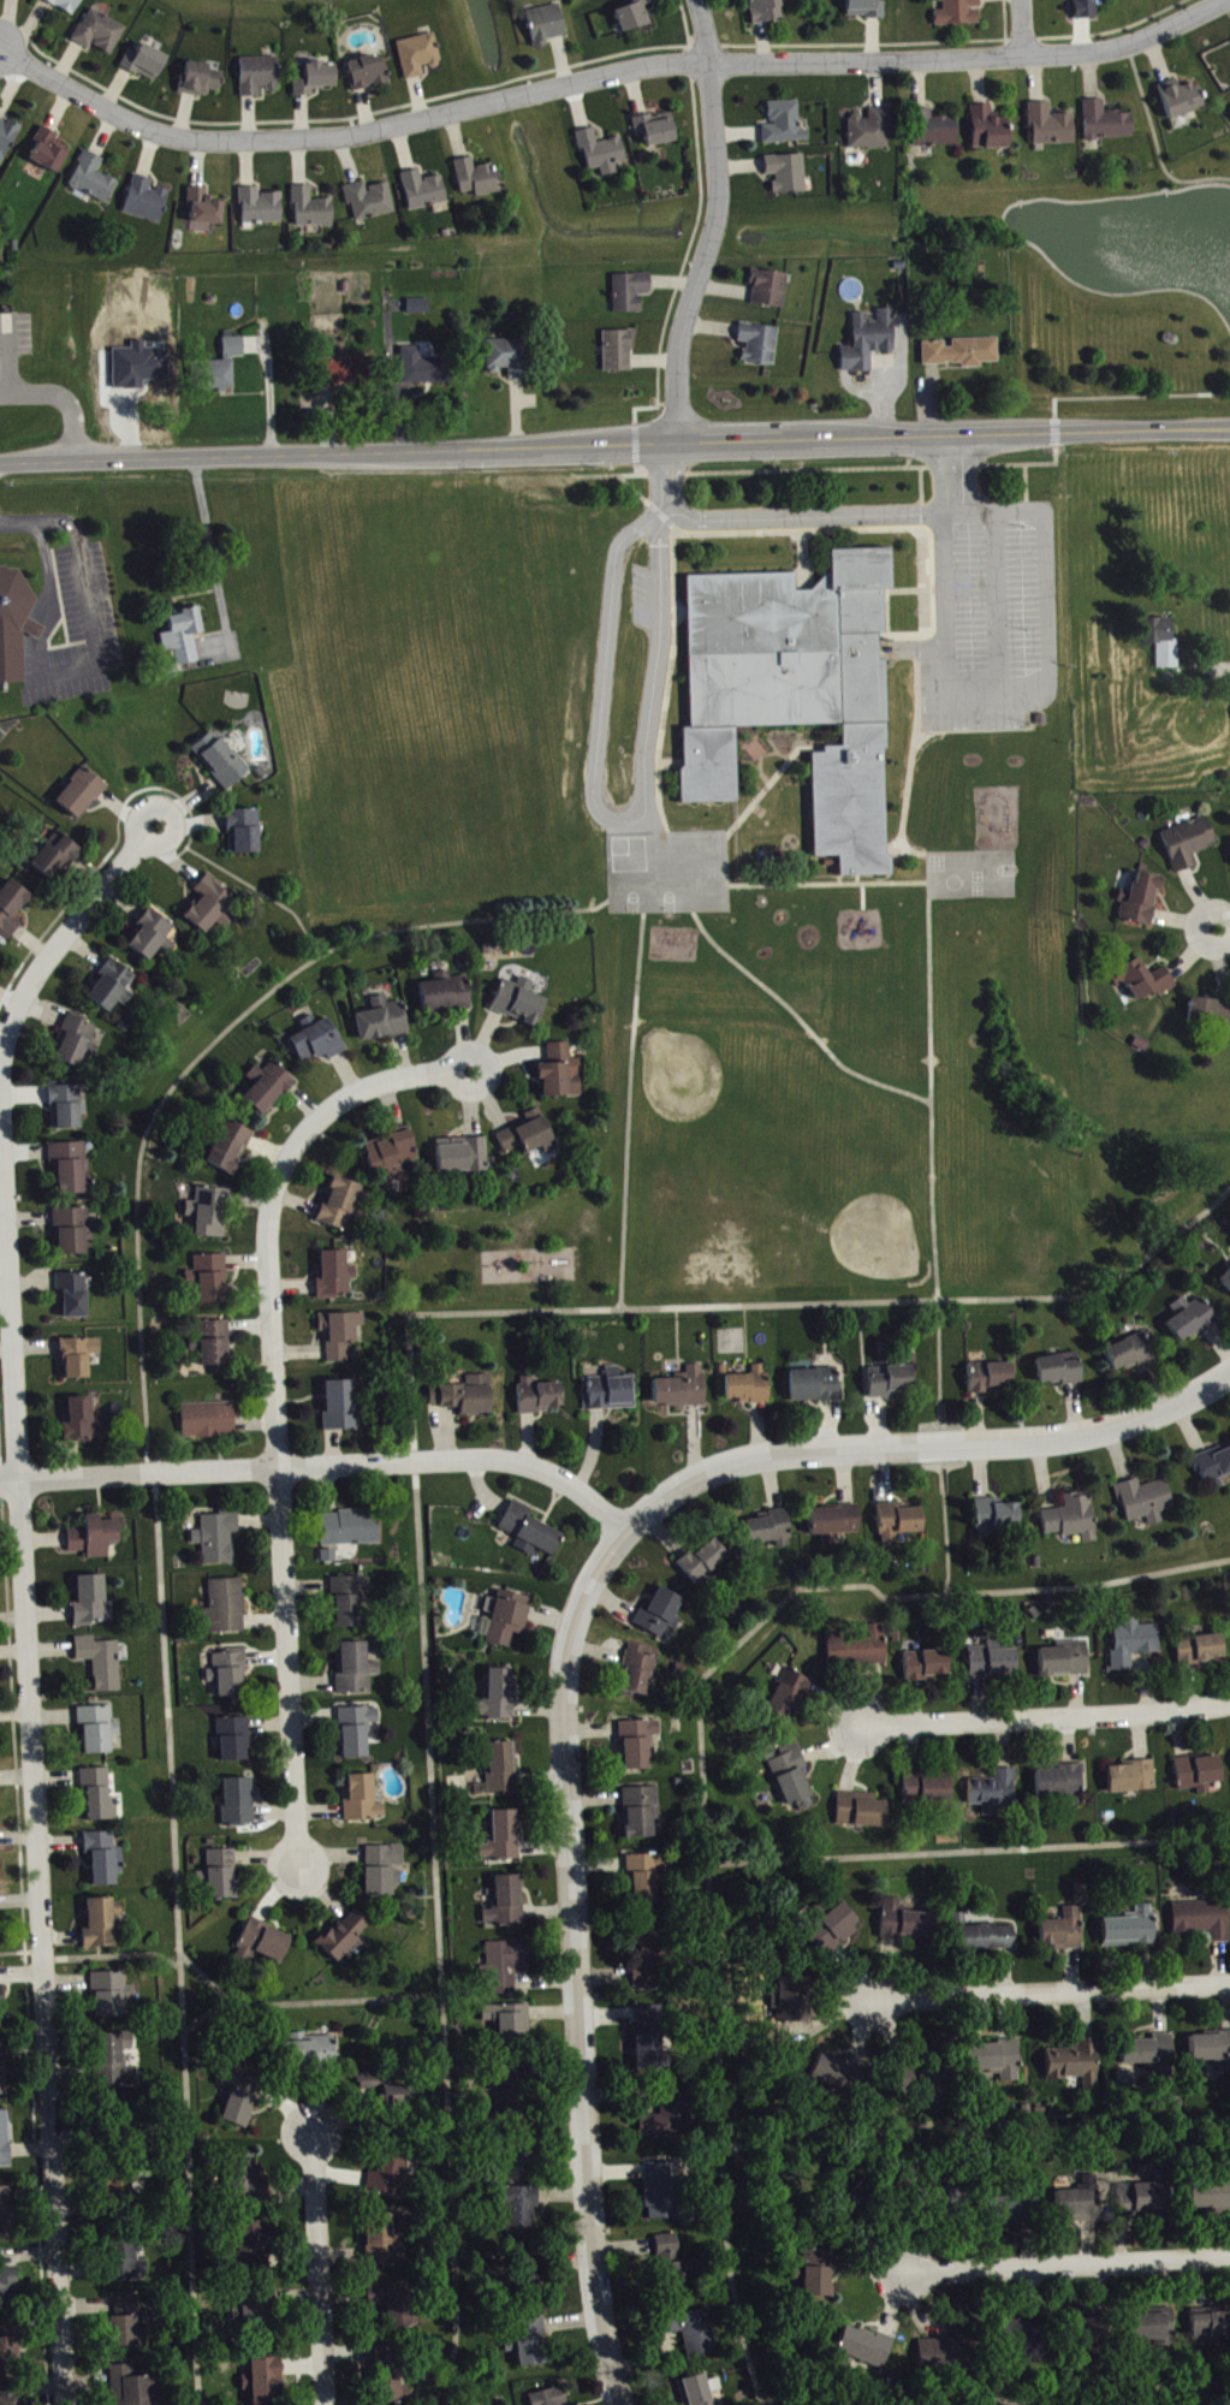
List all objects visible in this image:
building: (65, 5)
building: (867, 8)
building: (1088, 10)
building: (766, 11)
building: (959, 13)
building: (635, 16)
building: (548, 25)
road: (1027, 26)
building: (101, 34)
road: (1046, 53)
building: (420, 57)
building: (147, 64)
building: (369, 73)
building: (261, 77)
building: (317, 79)
building: (203, 81)
building: (1183, 100)
road: (422, 121)
building: (1107, 123)
building: (785, 125)
building: (1052, 127)
building: (658, 130)
building: (935, 130)
building: (990, 130)
building: (872, 131)
building: (7, 139)
road: (1154, 141)
building: (50, 153)
building: (604, 153)
building: (789, 174)
building: (477, 178)
building: (94, 179)
building: (424, 191)
building: (148, 201)
building: (372, 201)
building: (207, 208)
building: (262, 208)
building: (314, 210)
road: (717, 221)
building: (771, 290)
building: (631, 293)
building: (420, 308)
parking lot: (16, 331)
building: (870, 342)
building: (761, 345)
building: (619, 352)
building: (963, 354)
road: (7, 357)
building: (510, 358)
building: (225, 368)
building: (423, 369)
building: (346, 372)
road: (656, 392)
road: (1141, 393)
road: (64, 394)
road: (666, 400)
road: (1053, 405)
road: (1054, 429)
road: (632, 439)
road: (614, 444)
road: (843, 467)
road: (953, 473)
road: (669, 475)
road: (1024, 480)
road: (629, 485)
road: (919, 498)
road: (802, 517)
road: (46, 522)
road: (719, 530)
road: (38, 536)
road: (210, 552)
road: (802, 558)
road: (48, 587)
road: (901, 588)
road: (996, 602)
road: (677, 611)
road: (884, 611)
parking lot: (988, 613)
building: (12, 620)
road: (32, 628)
parking lot: (76, 628)
road: (90, 629)
building: (178, 630)
building: (1164, 642)
road: (34, 654)
road: (606, 659)
road: (1212, 666)
building: (162, 669)
road: (659, 672)
building: (791, 688)
road: (1028, 694)
road: (981, 728)
road: (914, 740)
building: (221, 761)
road: (667, 761)
road: (767, 782)
building: (82, 794)
building: (245, 832)
road: (696, 832)
building: (1189, 844)
road: (904, 848)
building: (57, 856)
road: (725, 860)
road: (927, 875)
road: (837, 877)
road: (855, 877)
road: (244, 881)
road: (826, 881)
road: (861, 893)
building: (1142, 901)
building: (212, 907)
building: (12, 909)
road: (670, 909)
road: (551, 910)
road: (1225, 920)
road: (1225, 927)
building: (154, 937)
road: (1225, 940)
building: (1145, 981)
building: (113, 988)
building: (447, 993)
building: (521, 1003)
building: (1211, 1011)
road: (800, 1020)
building: (384, 1021)
building: (317, 1043)
building: (77, 1044)
building: (563, 1074)
building: (268, 1088)
park: (703, 1095)
road: (628, 1108)
building: (67, 1109)
building: (530, 1136)
building: (231, 1148)
building: (392, 1154)
building: (467, 1159)
road: (929, 1160)
building: (71, 1169)
building: (343, 1206)
building: (210, 1213)
park: (839, 1215)
building: (73, 1233)
park: (522, 1259)
building: (337, 1276)
building: (213, 1281)
building: (1226, 1282)
building: (75, 1295)
building: (1192, 1320)
building: (343, 1335)
building: (216, 1344)
building: (1131, 1354)
building: (79, 1358)
building: (1060, 1371)
building: (991, 1378)
building: (890, 1383)
building: (816, 1386)
building: (750, 1388)
building: (683, 1390)
building: (612, 1392)
building: (467, 1397)
building: (541, 1397)
road: (279, 1402)
building: (343, 1407)
building: (209, 1421)
building: (83, 1423)
road: (420, 1432)
road: (928, 1447)
road: (325, 1466)
building: (1214, 1468)
building: (1147, 1502)
building: (997, 1518)
building: (1072, 1519)
building: (836, 1524)
building: (899, 1524)
building: (351, 1530)
building: (772, 1531)
building: (530, 1532)
road: (952, 1533)
building: (219, 1538)
building: (95, 1539)
road: (158, 1550)
building: (331, 1557)
building: (706, 1562)
road: (1091, 1587)
road: (28, 1592)
building: (351, 1602)
building: (91, 1603)
building: (228, 1608)
building: (662, 1614)
building: (509, 1619)
building: (1135, 1645)
building: (860, 1649)
building: (1202, 1650)
building: (1066, 1661)
building: (102, 1664)
building: (928, 1665)
building: (356, 1670)
building: (640, 1671)
building: (231, 1673)
building: (792, 1696)
building: (499, 1697)
road: (1047, 1716)
building: (99, 1730)
building: (358, 1732)
building: (236, 1741)
building: (640, 1745)
building: (504, 1769)
building: (1200, 1774)
building: (794, 1778)
building: (1134, 1778)
building: (1062, 1783)
building: (928, 1791)
building: (100, 1798)
building: (363, 1800)
building: (239, 1803)
building: (862, 1812)
building: (642, 1813)
building: (504, 1839)
road: (971, 1853)
building: (105, 1859)
building: (384, 1871)
building: (224, 1876)
building: (649, 1878)
road: (715, 1902)
building: (507, 1904)
building: (1204, 1920)
building: (908, 1923)
building: (103, 1924)
building: (836, 1929)
building: (1133, 1930)
building: (1065, 1932)
building: (0, 1935)
building: (346, 1938)
building: (987, 1940)
building: (266, 1943)
road: (113, 1955)
building: (649, 1956)
road: (581, 1960)
building: (506, 1967)
road: (209, 1981)
road: (1052, 1990)
building: (114, 1995)
road: (311, 2002)
building: (2, 2007)
building: (510, 2025)
building: (650, 2039)
building: (1211, 2049)
building: (311, 2053)
building: (1151, 2053)
building: (997, 2061)
building: (117, 2062)
building: (1077, 2065)
building: (4, 2072)
building: (837, 2077)
building: (934, 2085)
building: (387, 2090)
building: (510, 2091)
building: (240, 2101)
building: (670, 2119)
road: (976, 2128)
building: (5, 2142)
building: (523, 2152)
building: (393, 2169)
building: (244, 2177)
building: (119, 2191)
building: (665, 2192)
building: (1211, 2197)
building: (1145, 2199)
building: (1081, 2203)
building: (852, 2205)
building: (1010, 2213)
building: (7, 2214)
building: (524, 2214)
building: (255, 2244)
building: (387, 2244)
building: (129, 2263)
building: (672, 2264)
road: (1069, 2264)
road: (322, 2267)
building: (533, 2273)
building: (820, 2275)
building: (8, 2287)
building: (394, 2304)
building: (255, 2312)
building: (129, 2326)
building: (1154, 2328)
building: (1211, 2328)
building: (1092, 2332)
building: (694, 2333)
building: (1027, 2334)
building: (531, 2344)
building: (8, 2346)
building: (864, 2350)
building: (952, 2351)
building: (266, 2382)
building: (132, 2387)
building: (696, 2392)
building: (552, 2398)
road: (999, 2398)
building: (8, 2399)

